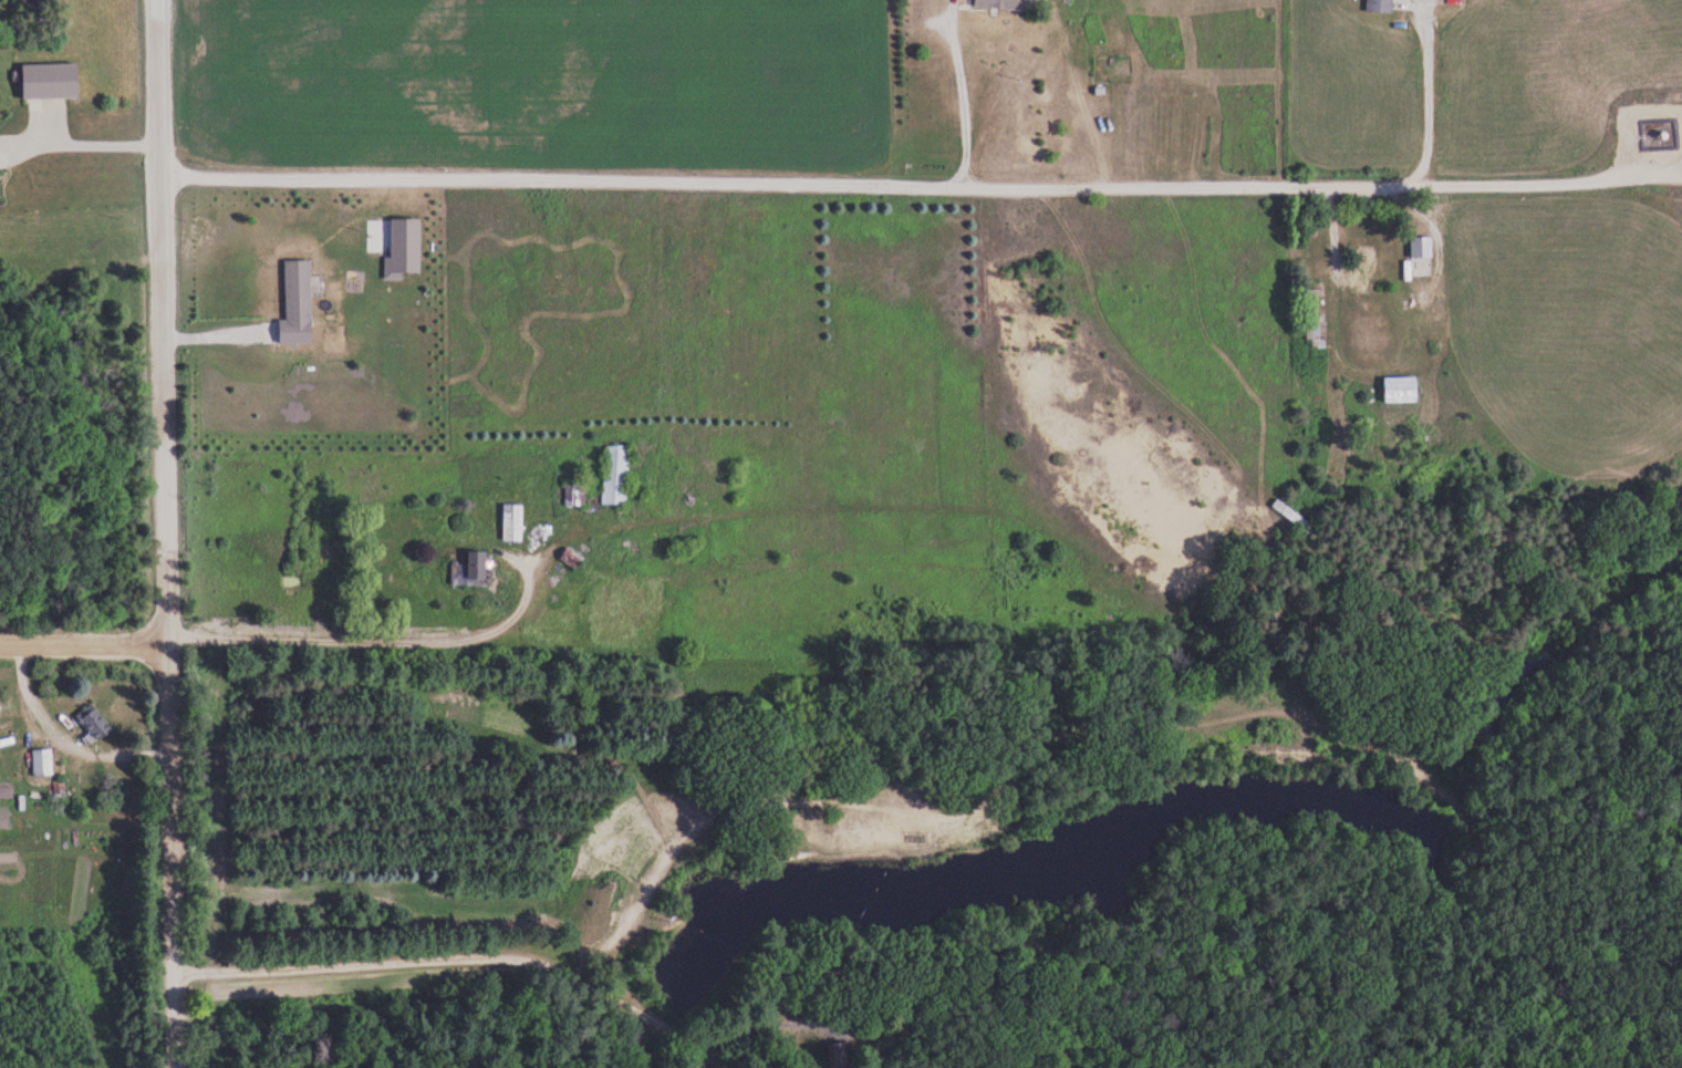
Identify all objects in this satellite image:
building: (1001, 3)
building: (1380, 6)
building: (51, 81)
road: (1429, 106)
road: (918, 179)
road: (1679, 183)
building: (1421, 257)
building: (1362, 273)
building: (298, 303)
building: (1316, 320)
building: (616, 476)
building: (575, 496)
building: (1294, 516)
building: (512, 523)
road: (164, 533)
building: (632, 547)
building: (573, 558)
building: (479, 569)
road: (368, 635)
road: (83, 642)
building: (94, 722)
building: (43, 763)
building: (840, 1055)

